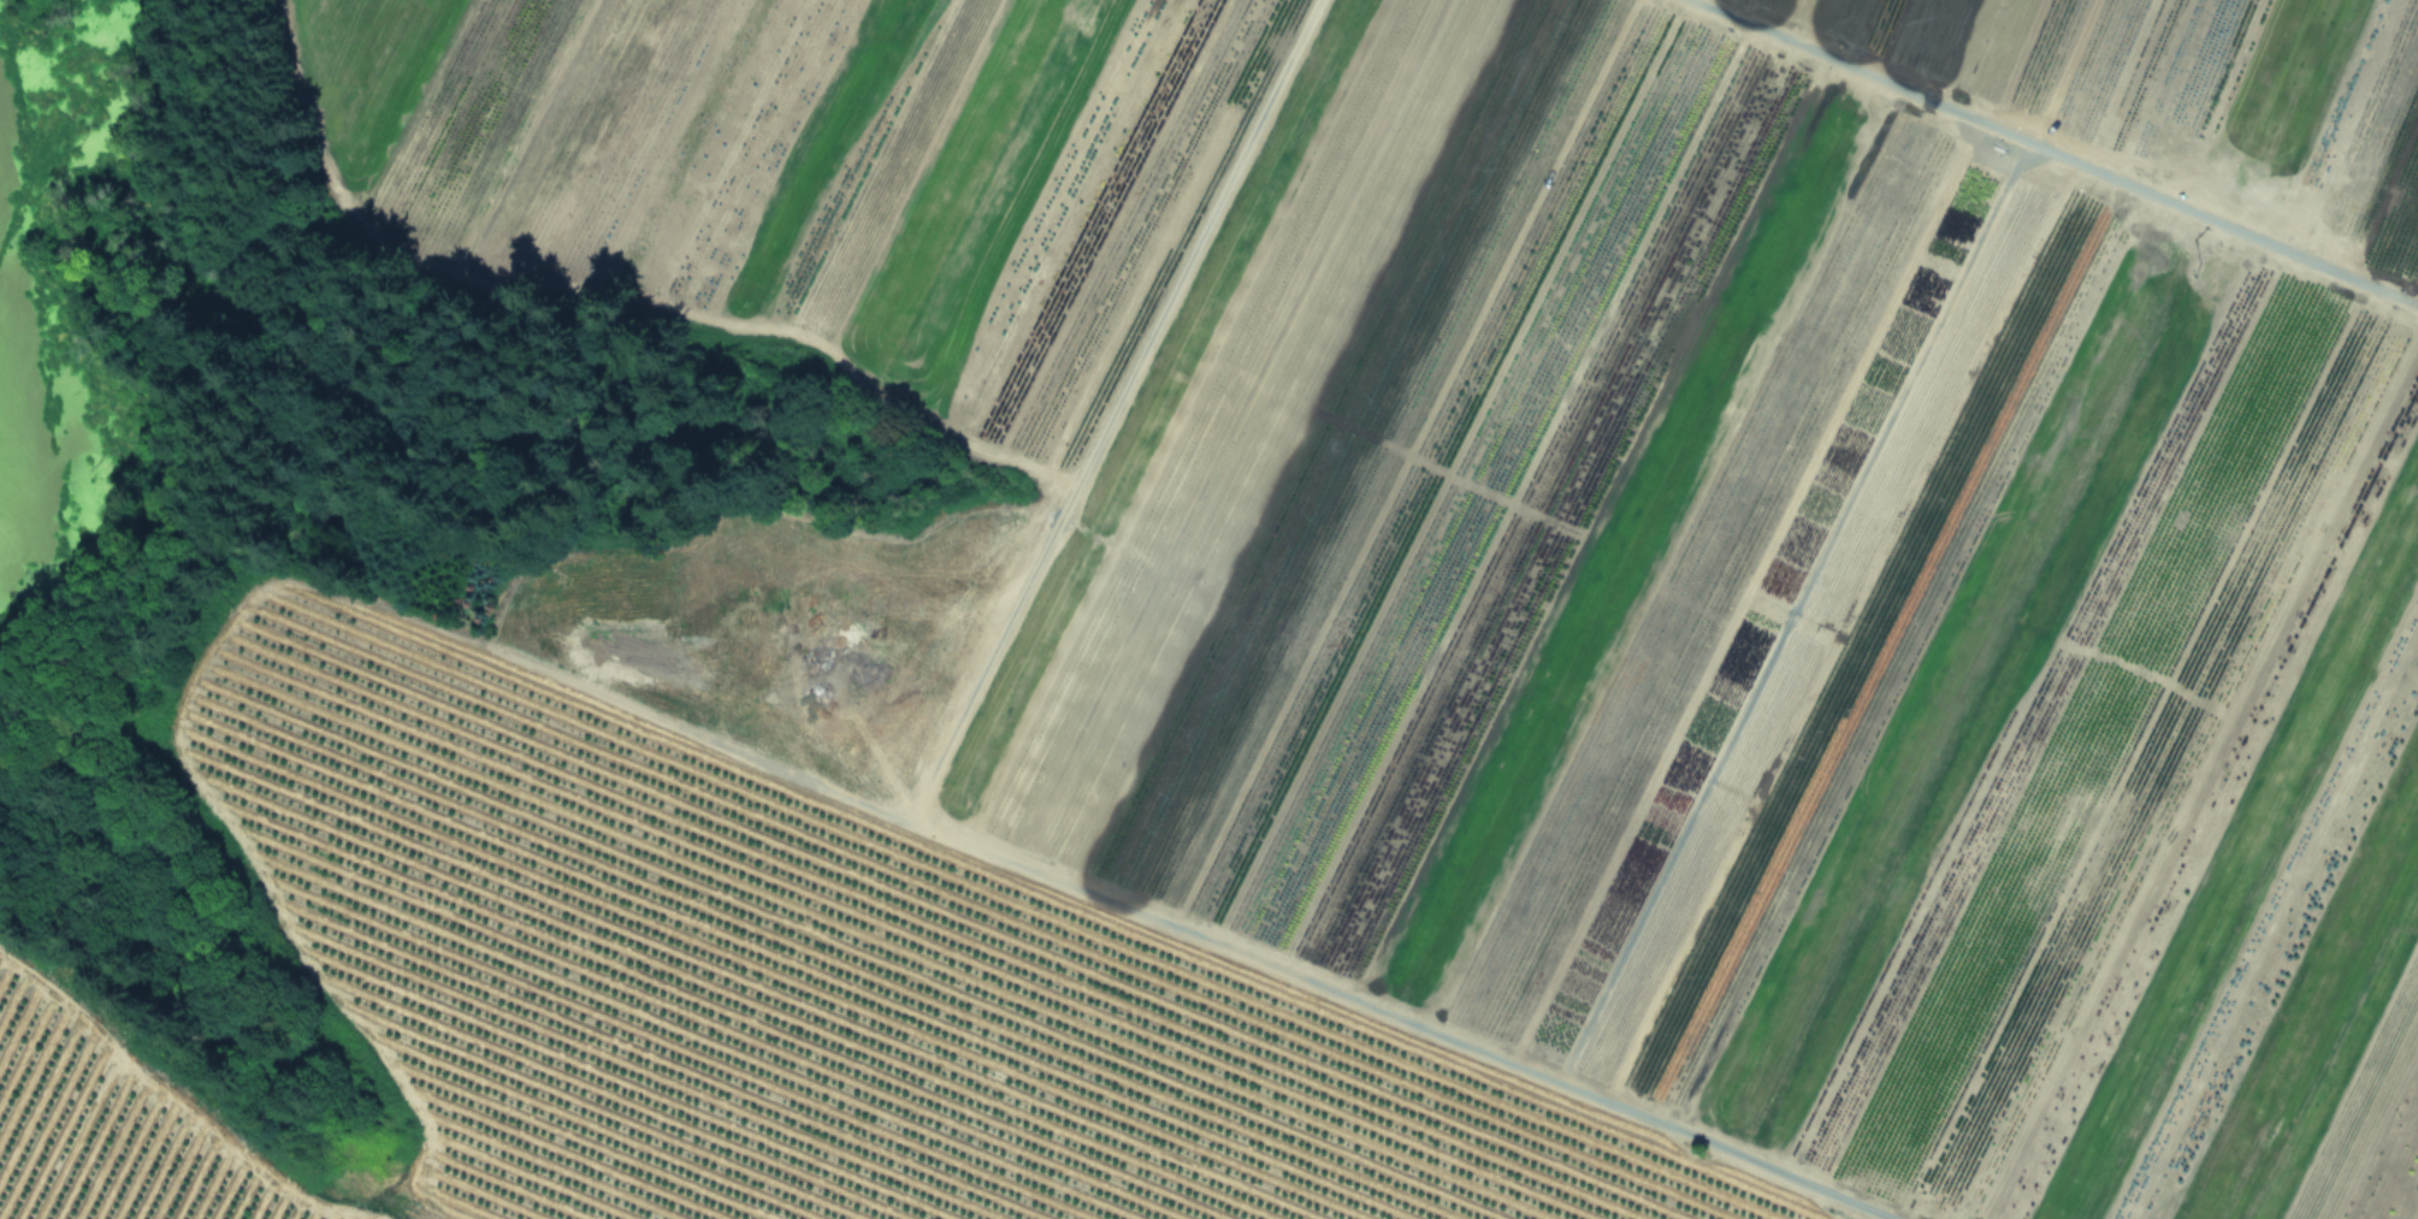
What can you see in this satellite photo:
crop: (1382, 629)
road: (916, 771)

